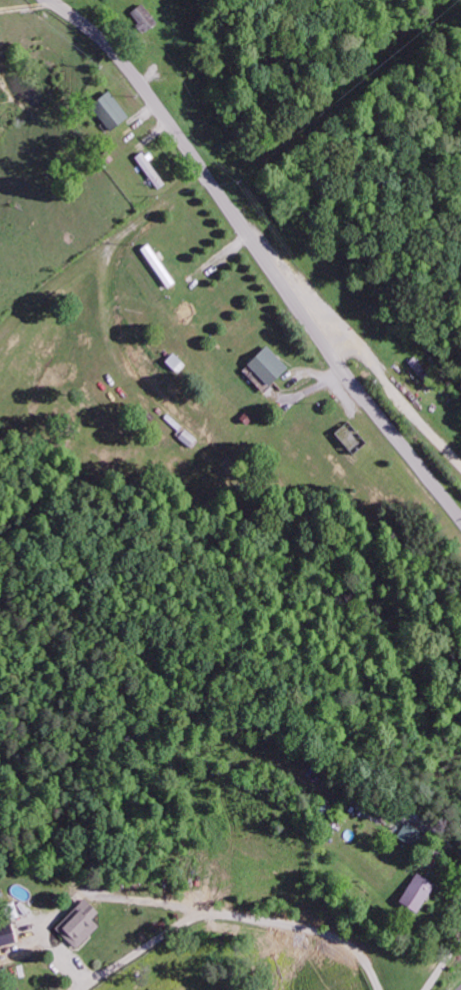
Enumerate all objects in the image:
building: (141, 17)
building: (108, 109)
road: (261, 253)
building: (173, 362)
building: (265, 365)
building: (184, 436)
building: (403, 834)
building: (410, 893)
building: (9, 911)
building: (77, 924)
building: (5, 935)

